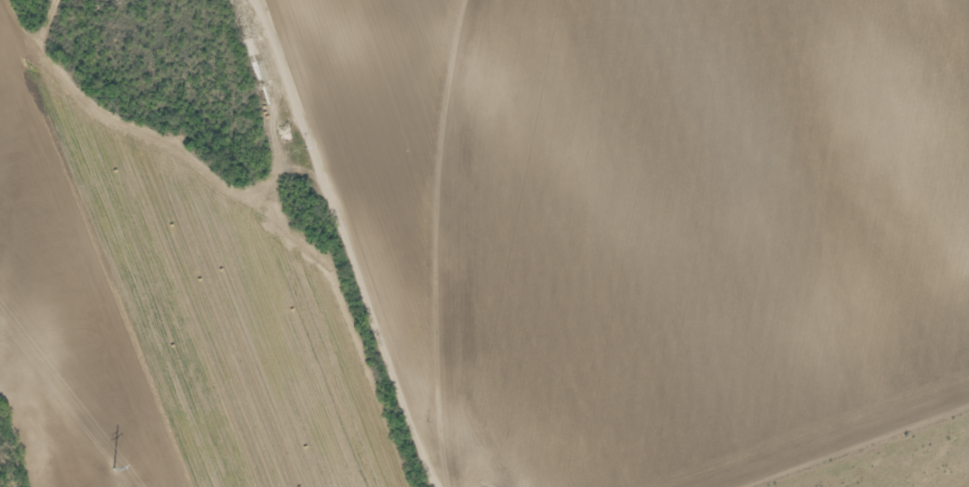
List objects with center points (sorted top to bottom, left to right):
road: (350, 244)
power tower: (105, 460)

